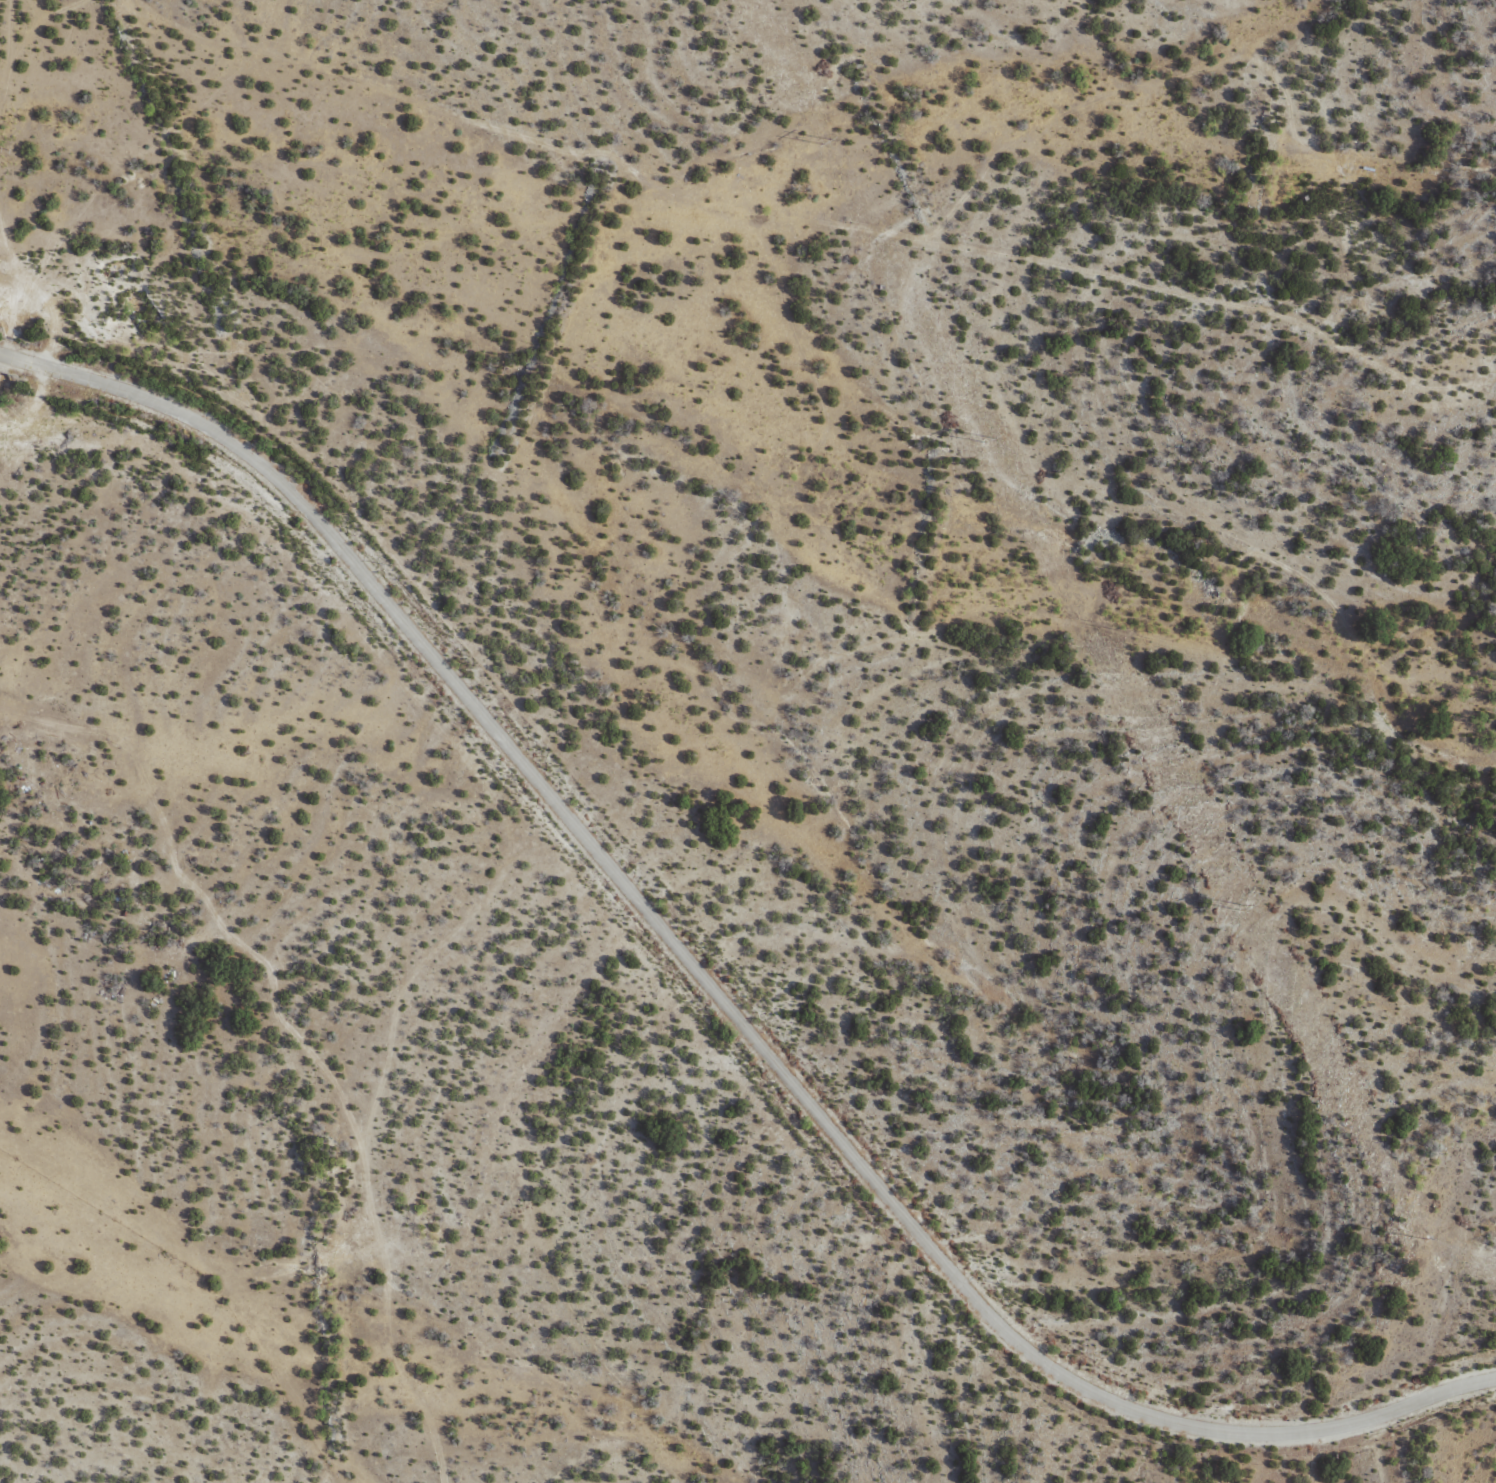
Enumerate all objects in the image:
power tower: (822, 140)
power tower: (1, 147)
road: (22, 202)
power tower: (991, 440)
power tower: (1247, 907)
road: (712, 991)
power tower: (1441, 1242)

